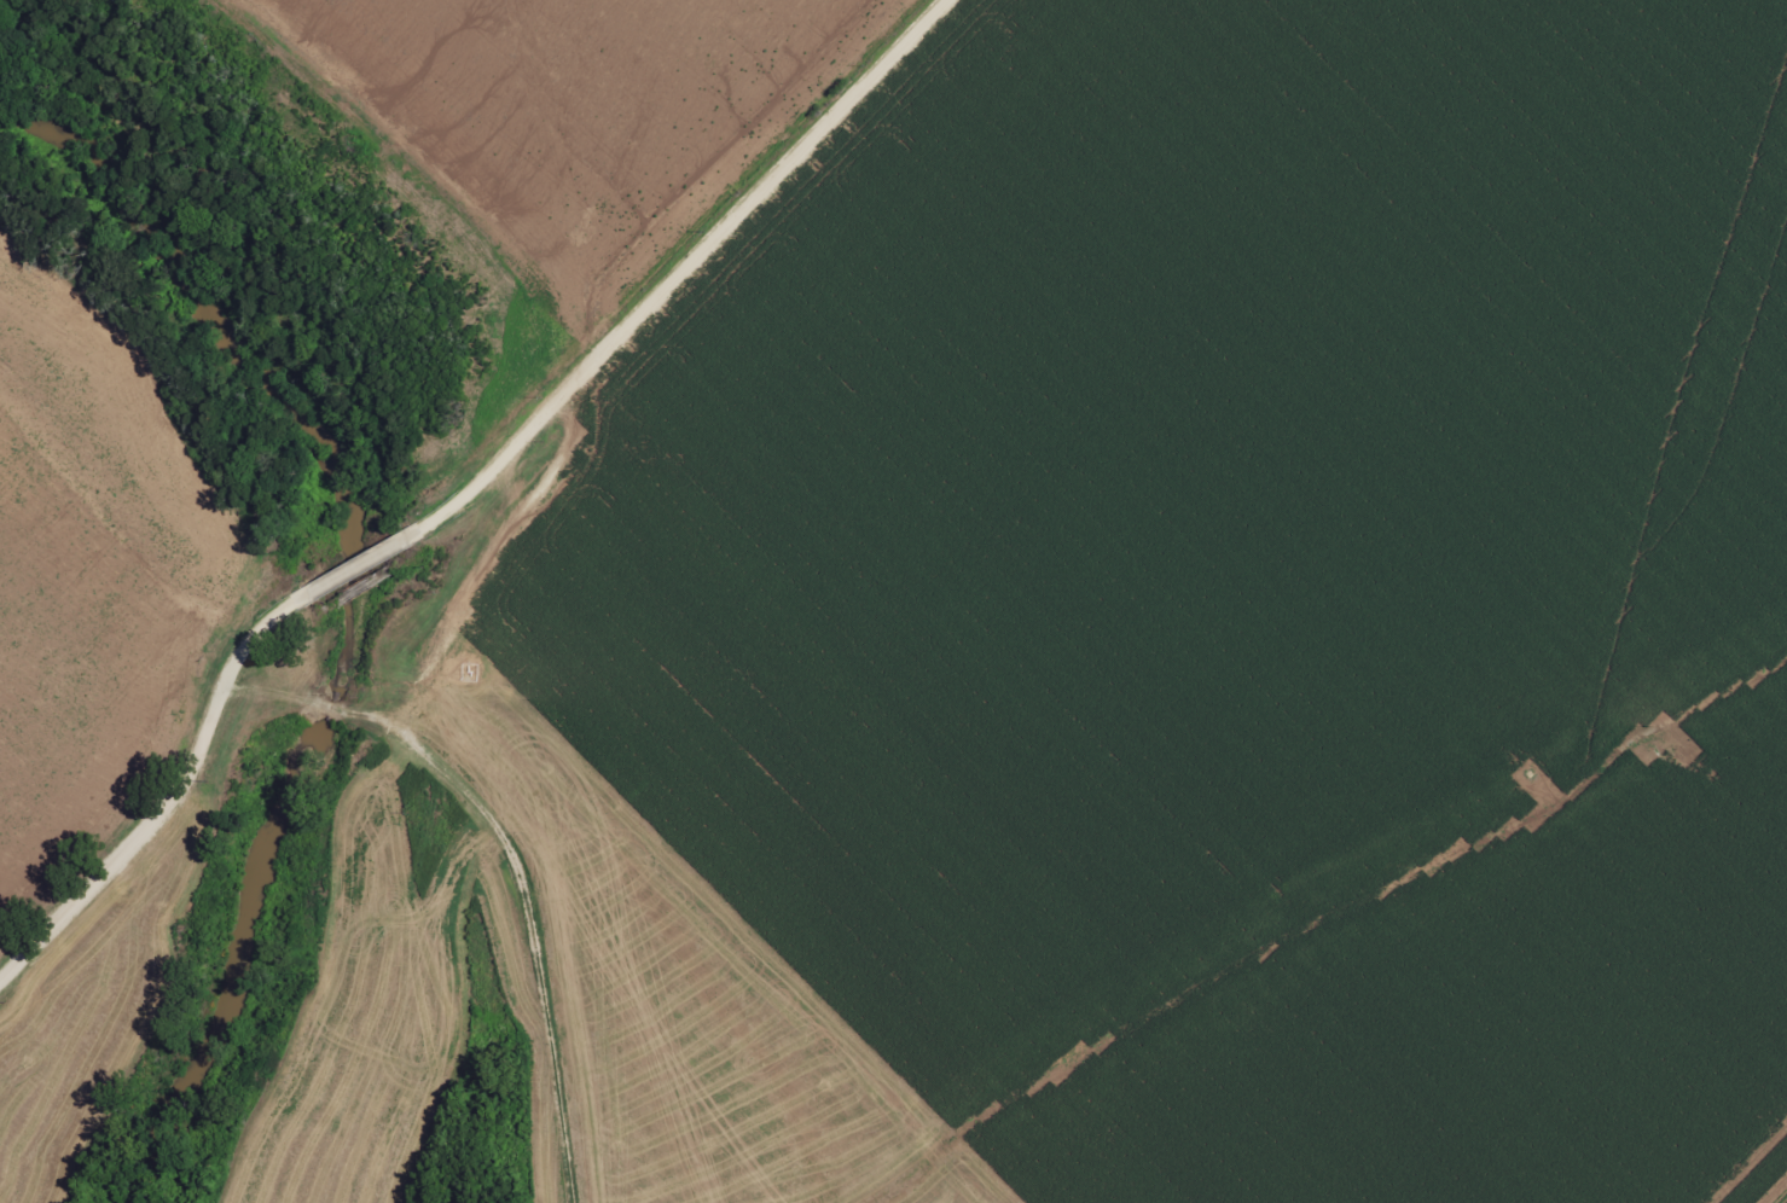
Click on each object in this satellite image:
road: (460, 502)

